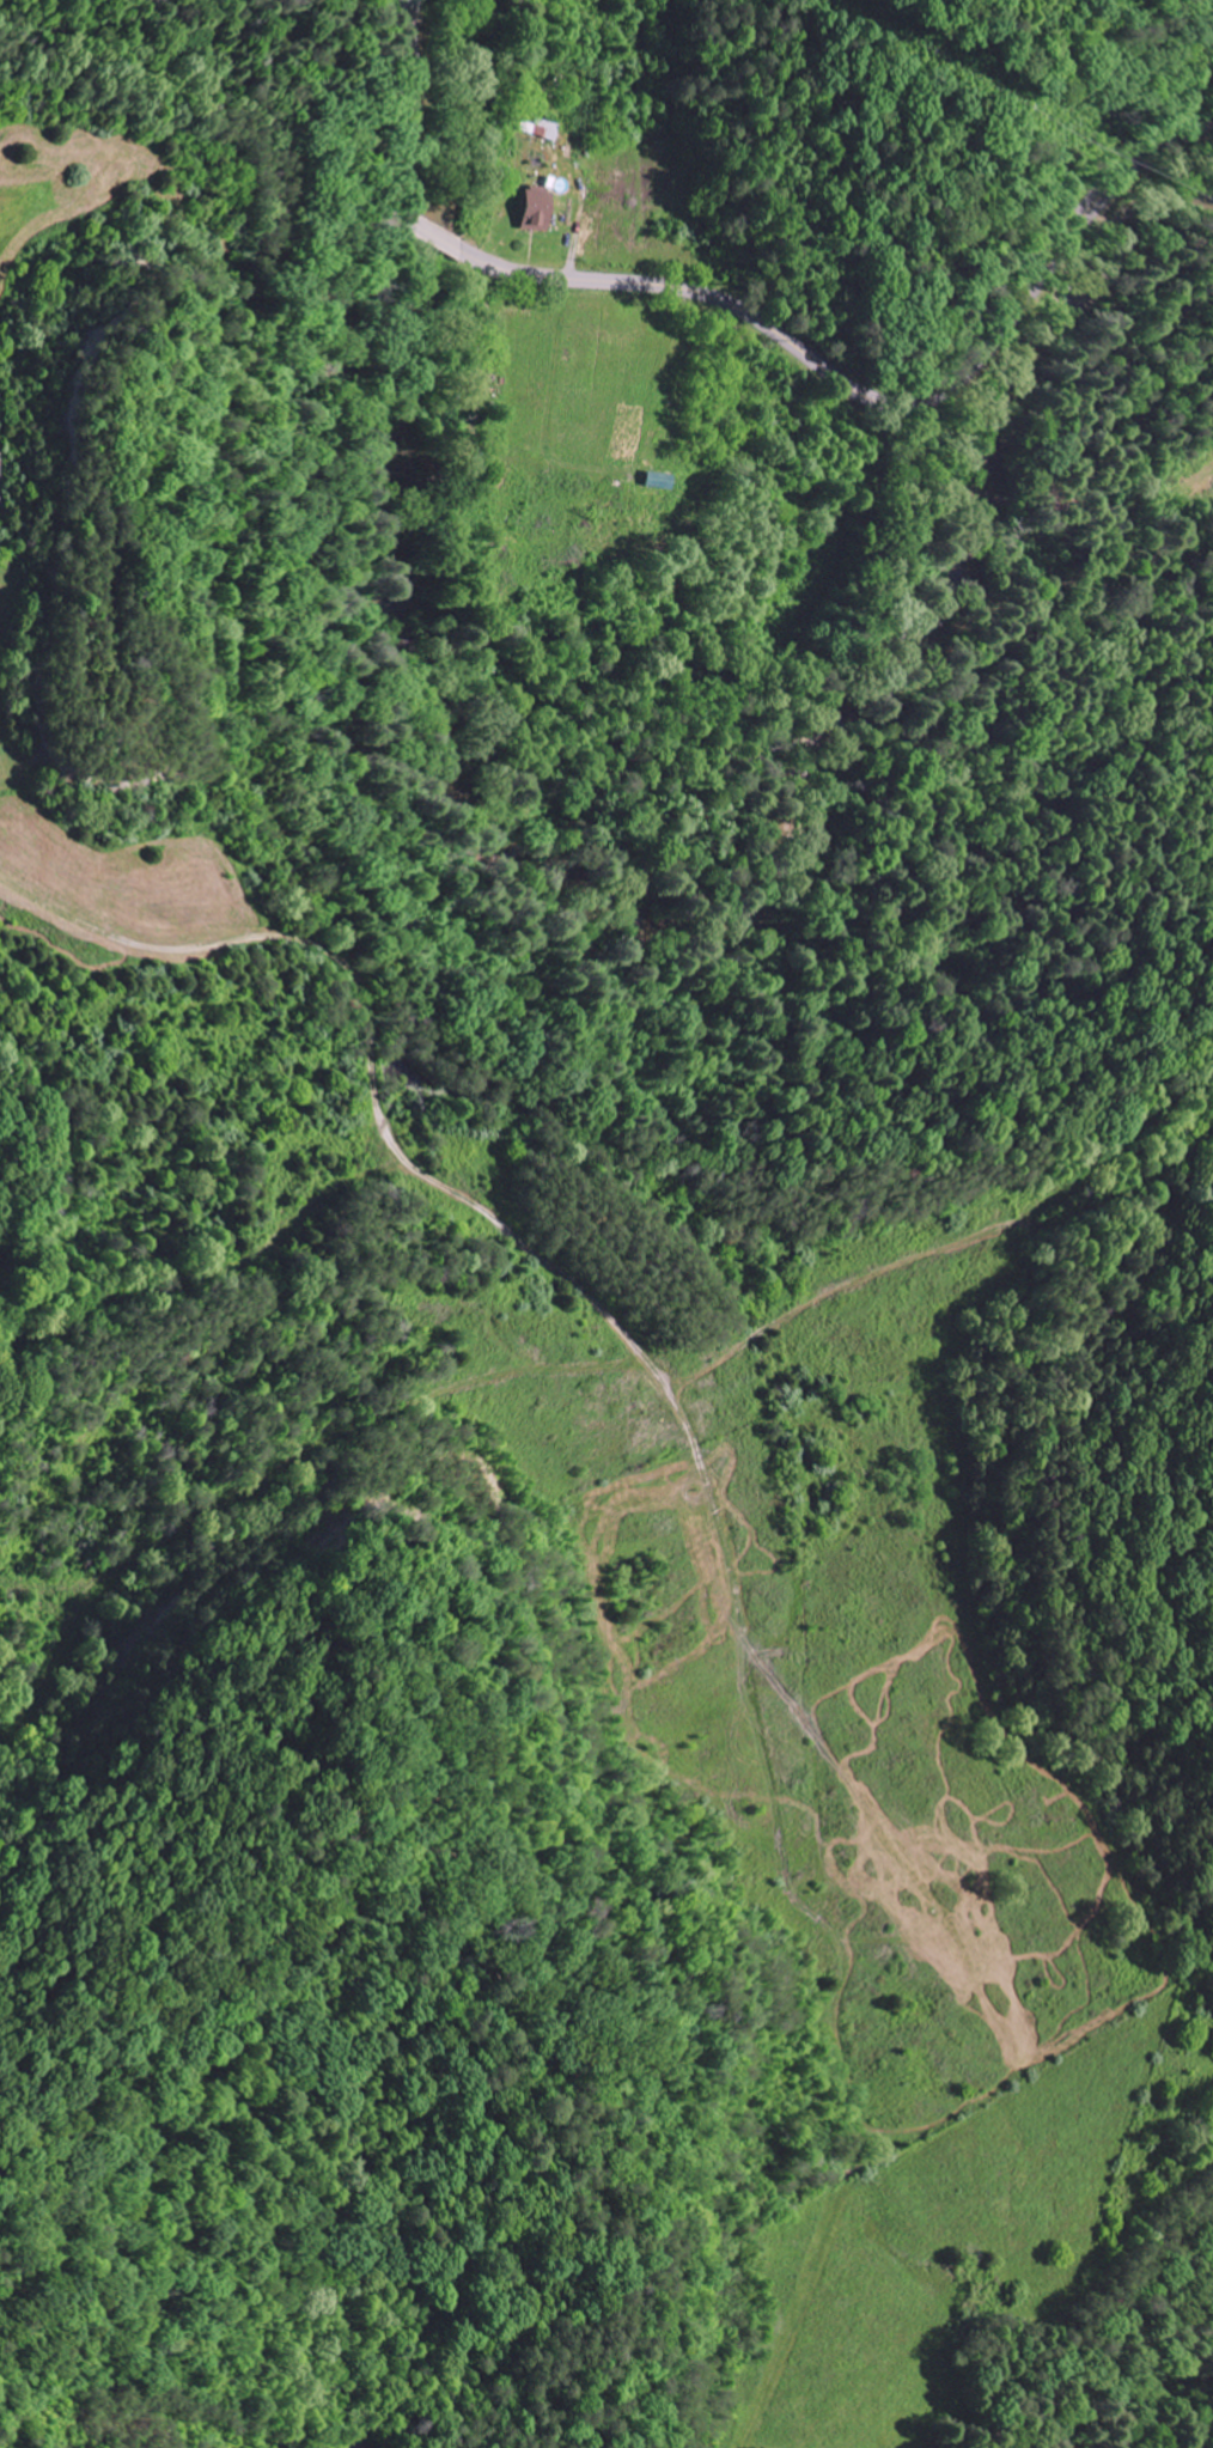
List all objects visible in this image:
road: (538, 142)
building: (537, 209)
road: (762, 319)
building: (664, 480)
road: (43, 1123)
road: (855, 1487)

